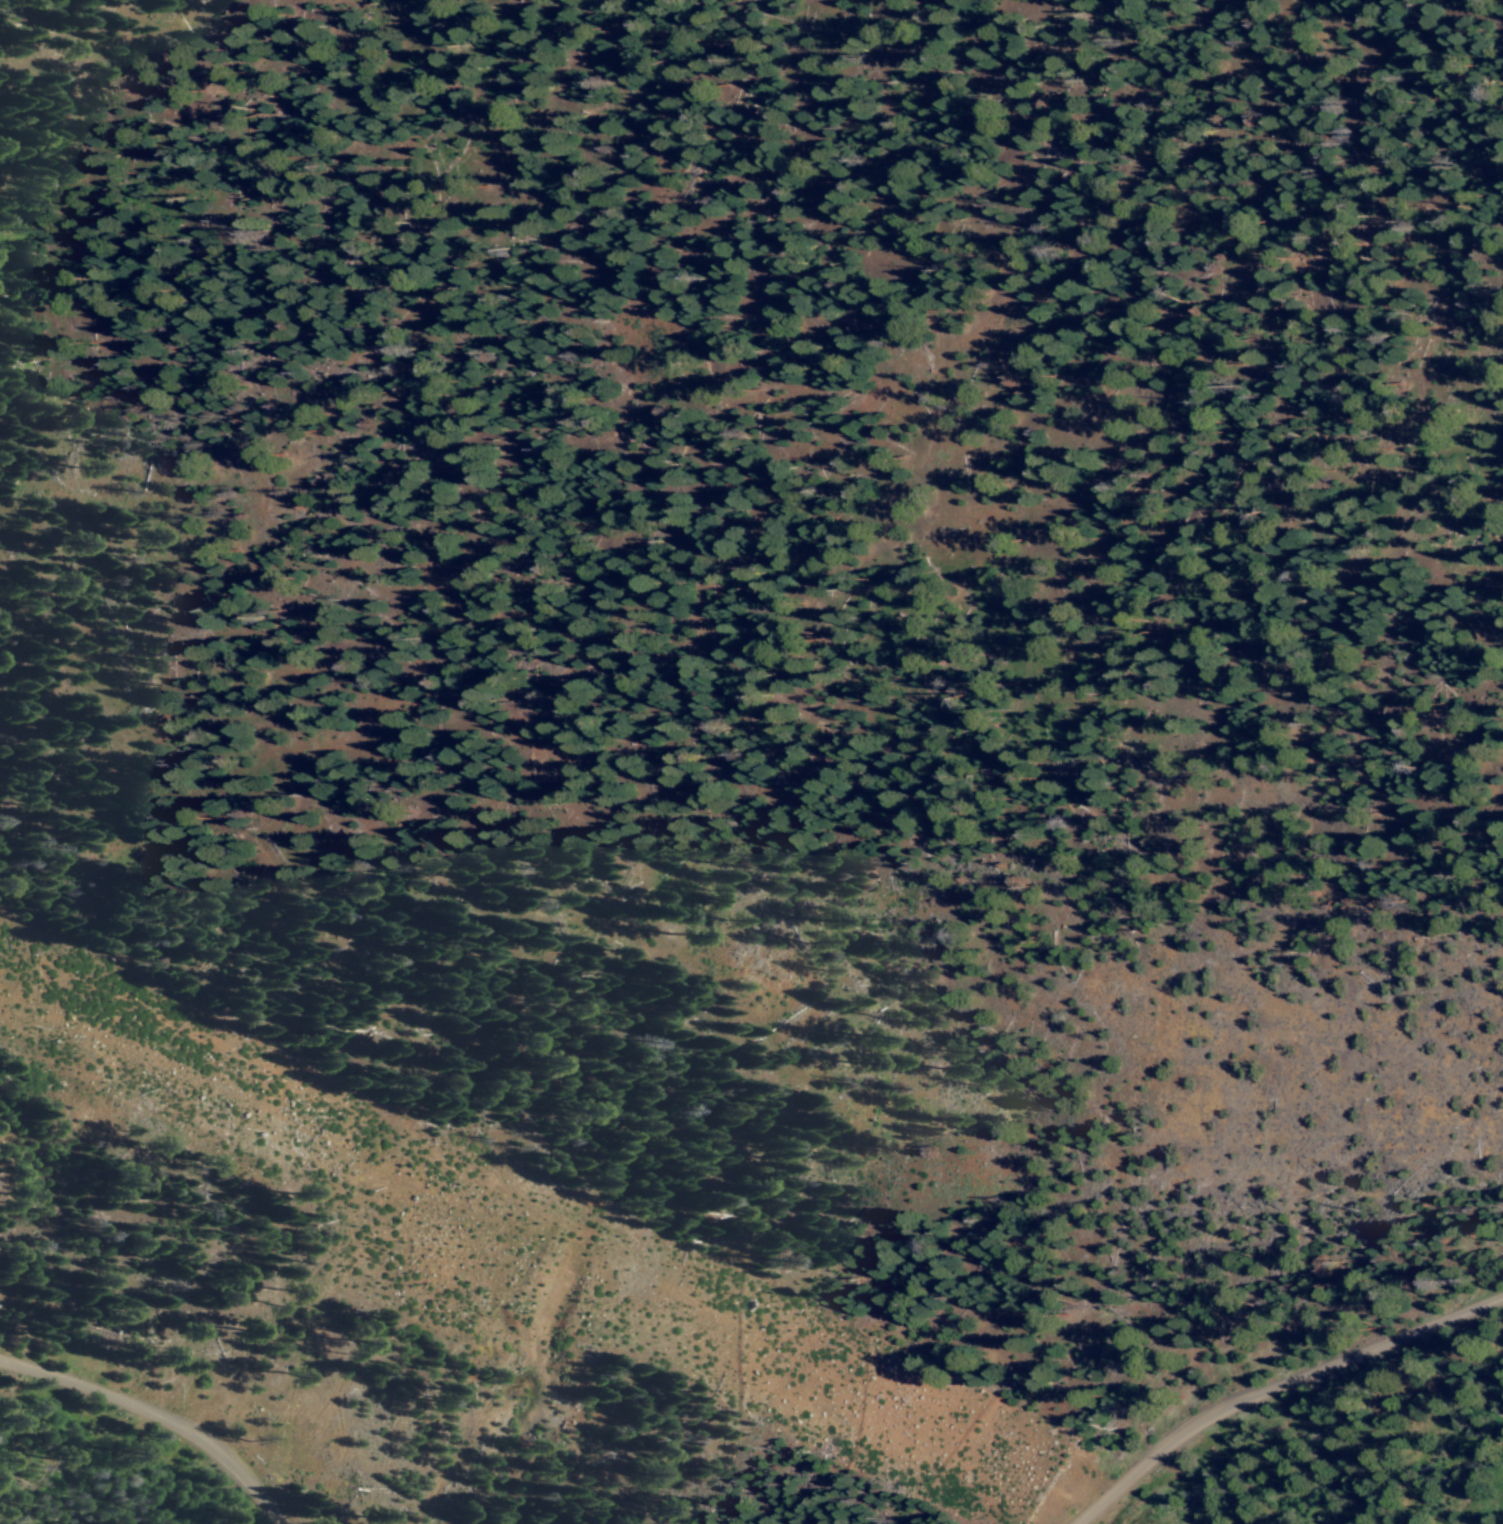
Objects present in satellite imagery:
road: (1269, 1382)
road: (152, 1416)

